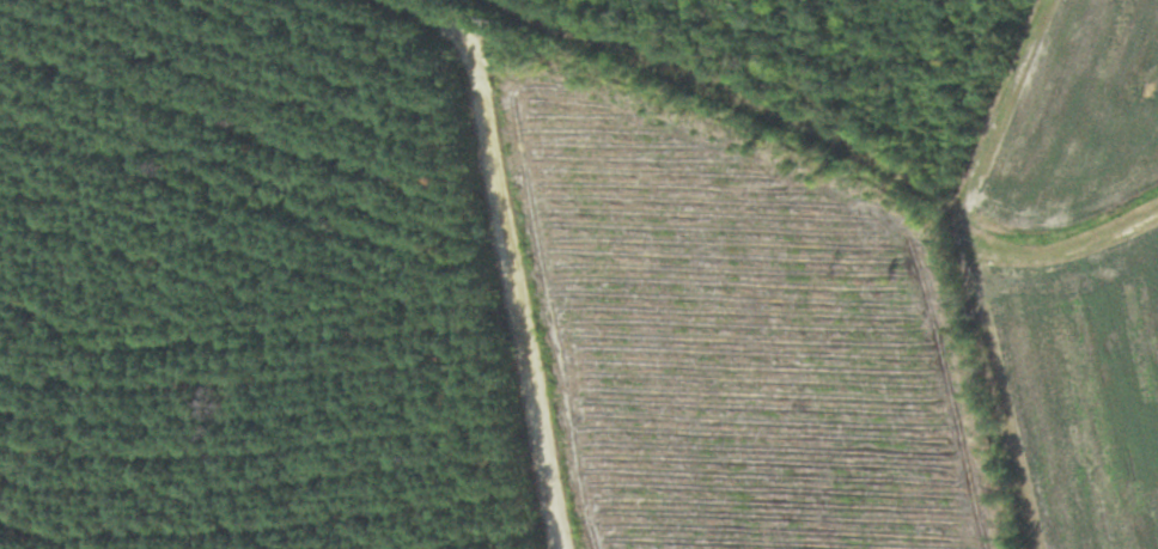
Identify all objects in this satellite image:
road: (492, 257)

